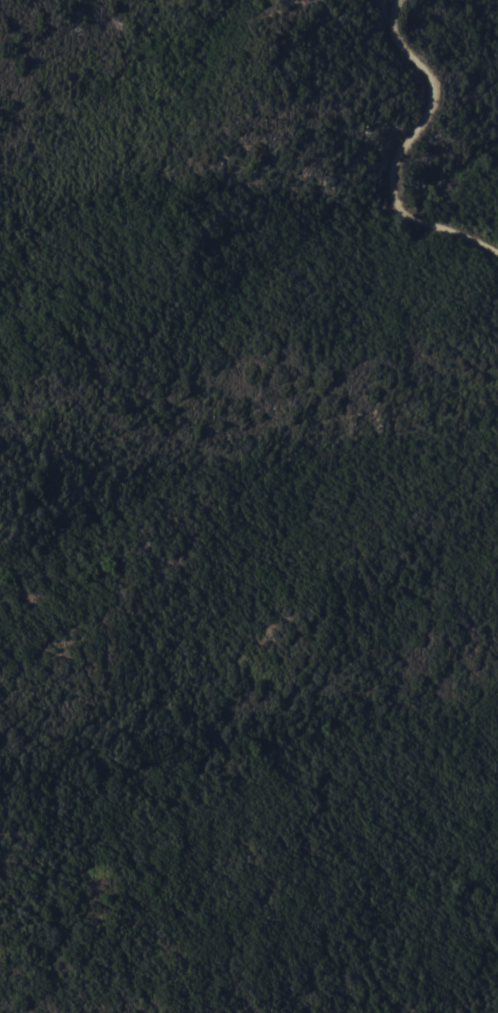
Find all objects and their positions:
road: (399, 151)

